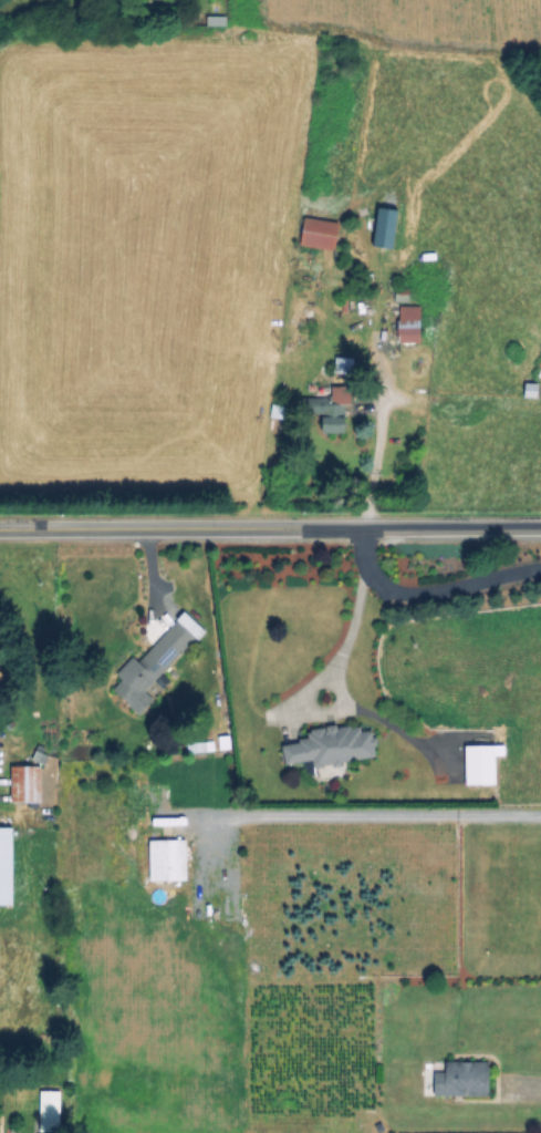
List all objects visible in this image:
building: (407, 326)
building: (539, 371)
building: (327, 410)
road: (365, 463)
road: (270, 524)
road: (426, 589)
road: (345, 631)
building: (148, 667)
building: (329, 746)
building: (479, 764)
building: (23, 784)
road: (361, 816)
building: (166, 861)
building: (4, 867)
building: (460, 1080)
building: (48, 1112)

